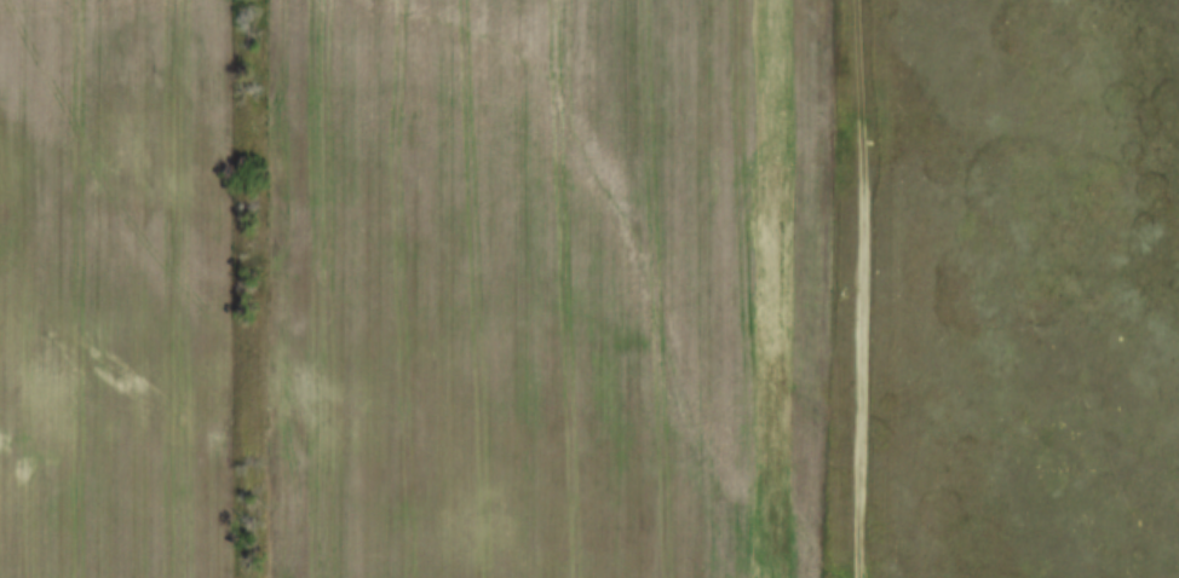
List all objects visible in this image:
road: (863, 288)

